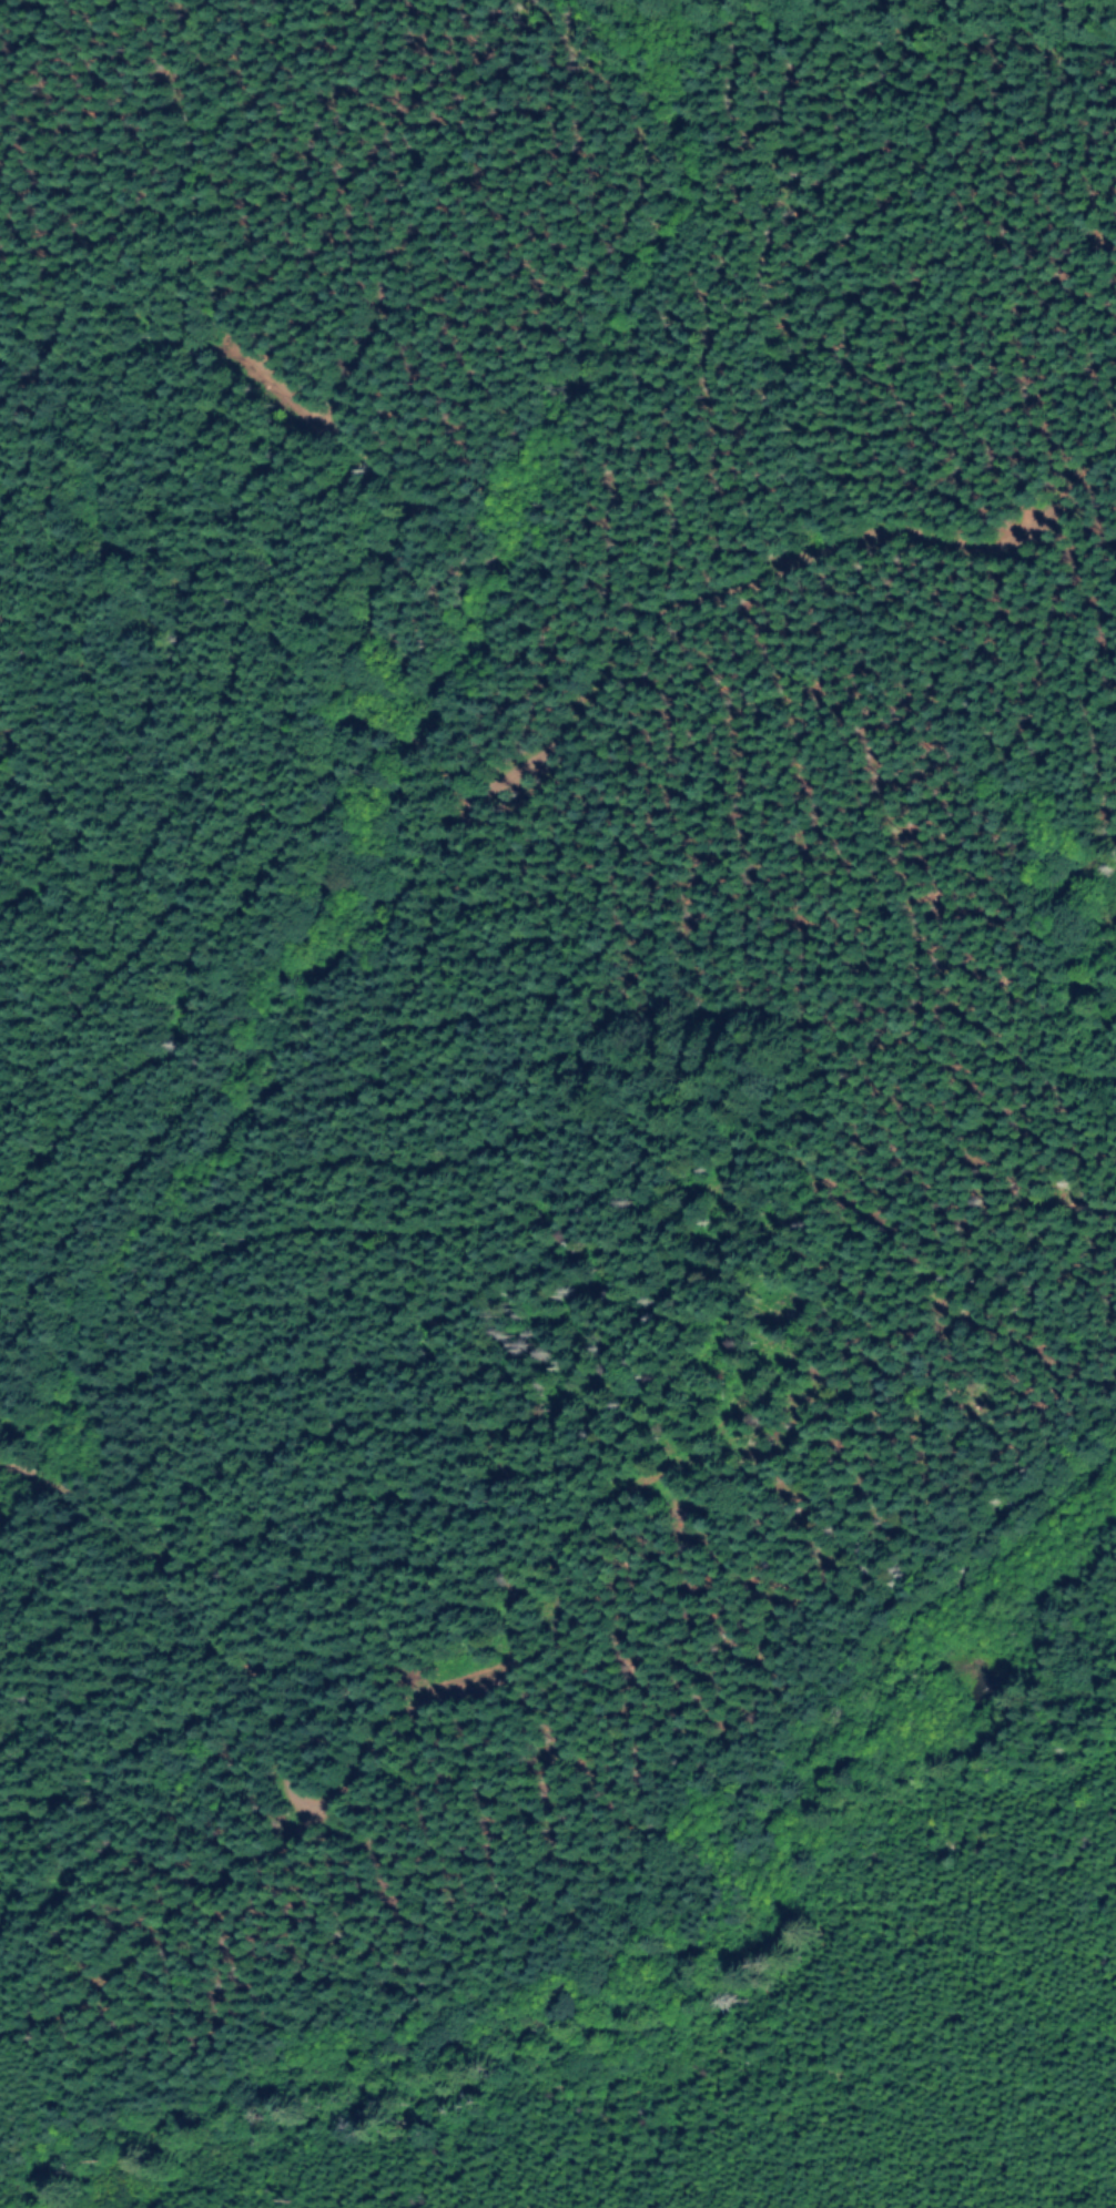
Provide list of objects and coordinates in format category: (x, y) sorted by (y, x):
road: (394, 994)
road: (329, 2084)

